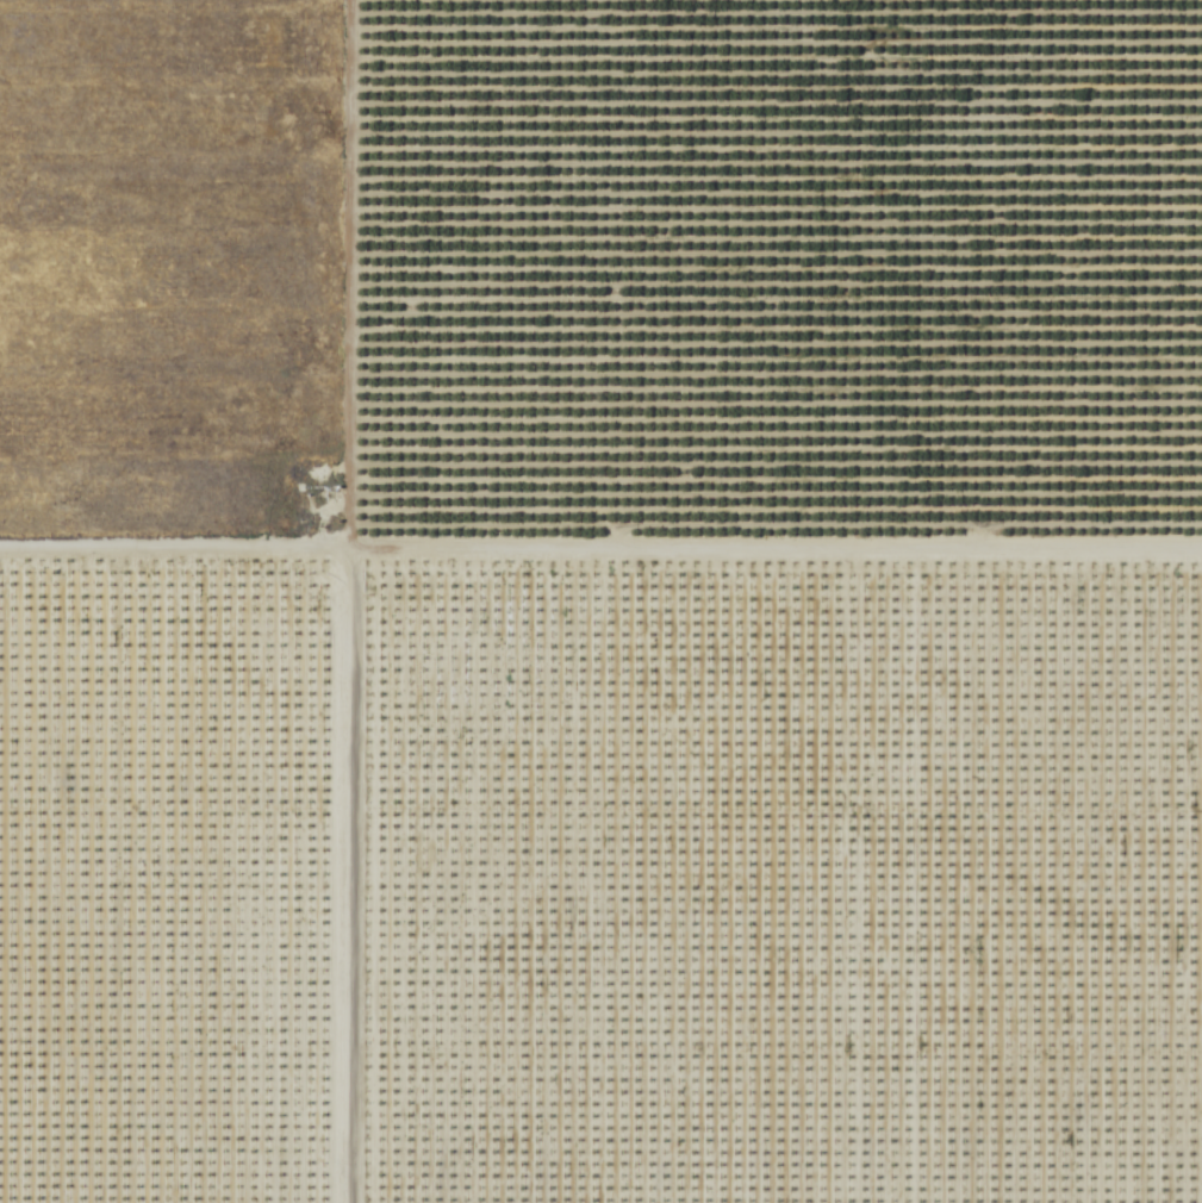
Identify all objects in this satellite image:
crop: (167, 268)
road: (600, 551)
road: (341, 600)

